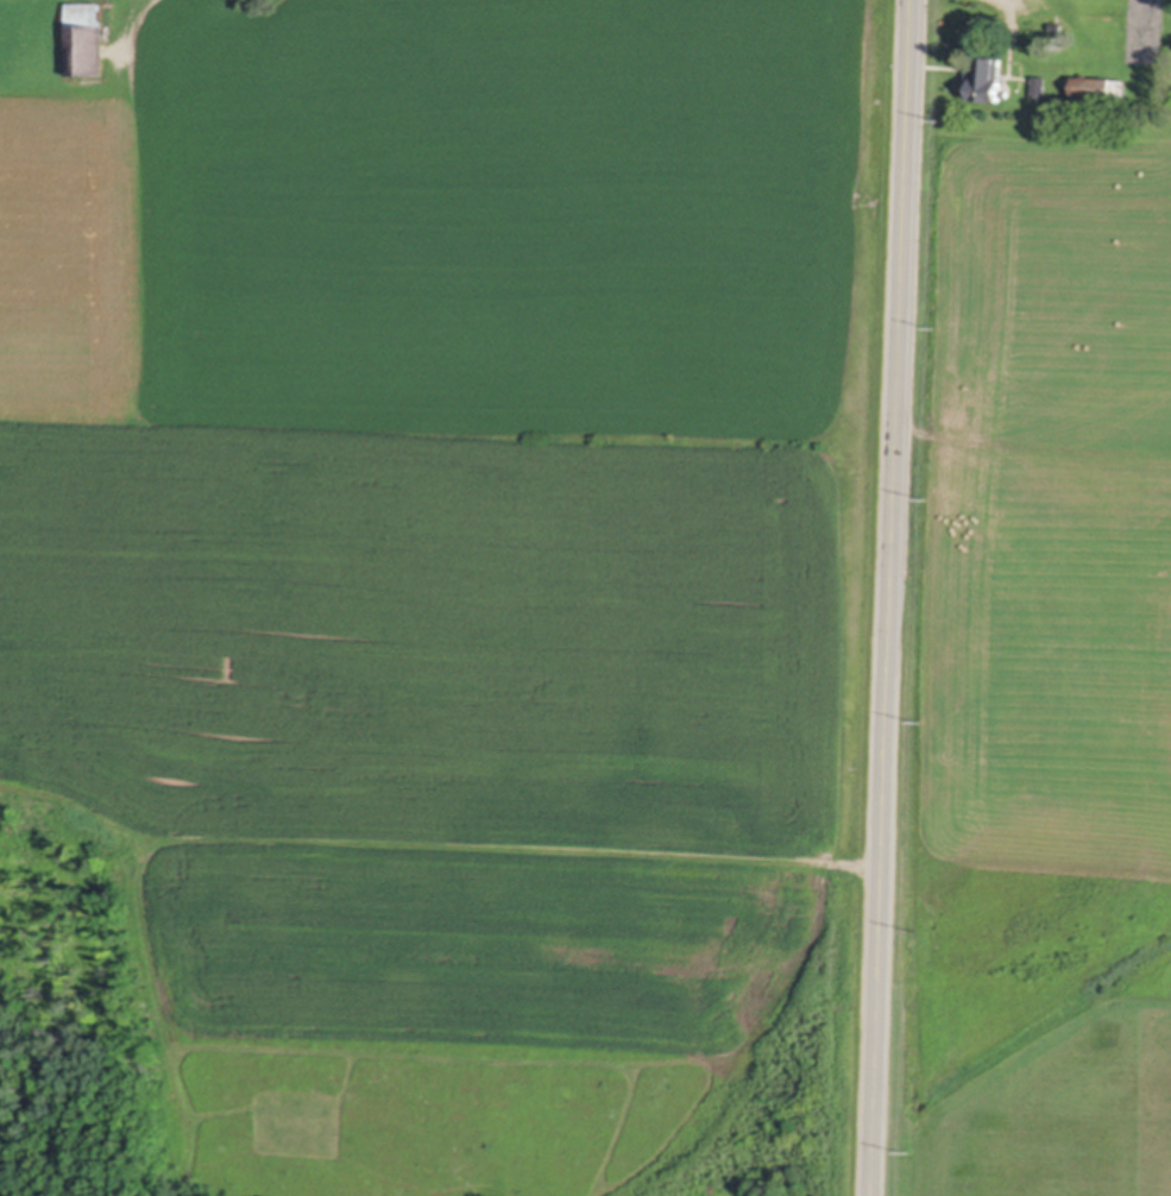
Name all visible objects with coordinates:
building: (1056, 25)
building: (86, 38)
building: (986, 78)
building: (1038, 84)
building: (1098, 84)
road: (892, 598)

